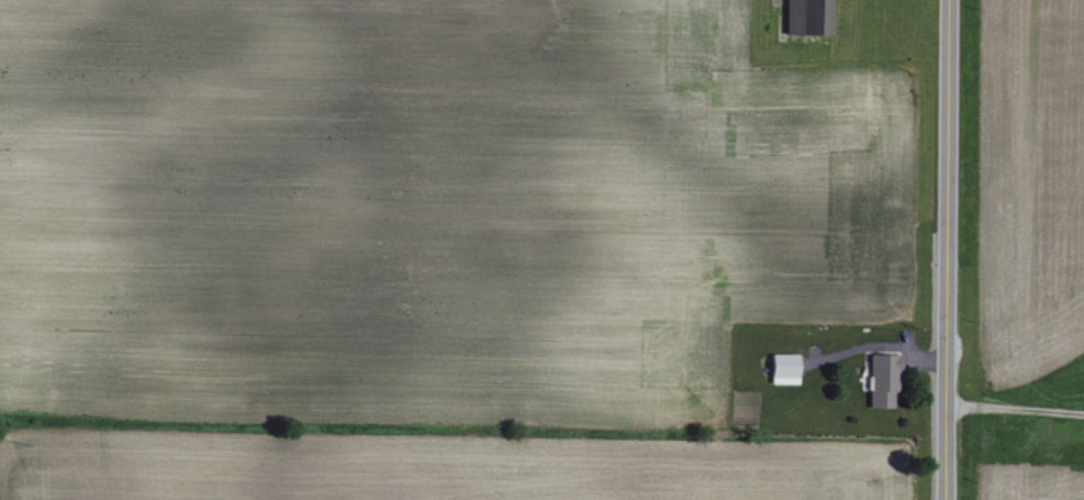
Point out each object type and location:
building: (805, 18)
road: (945, 249)
building: (785, 368)
building: (884, 379)
road: (1014, 410)

